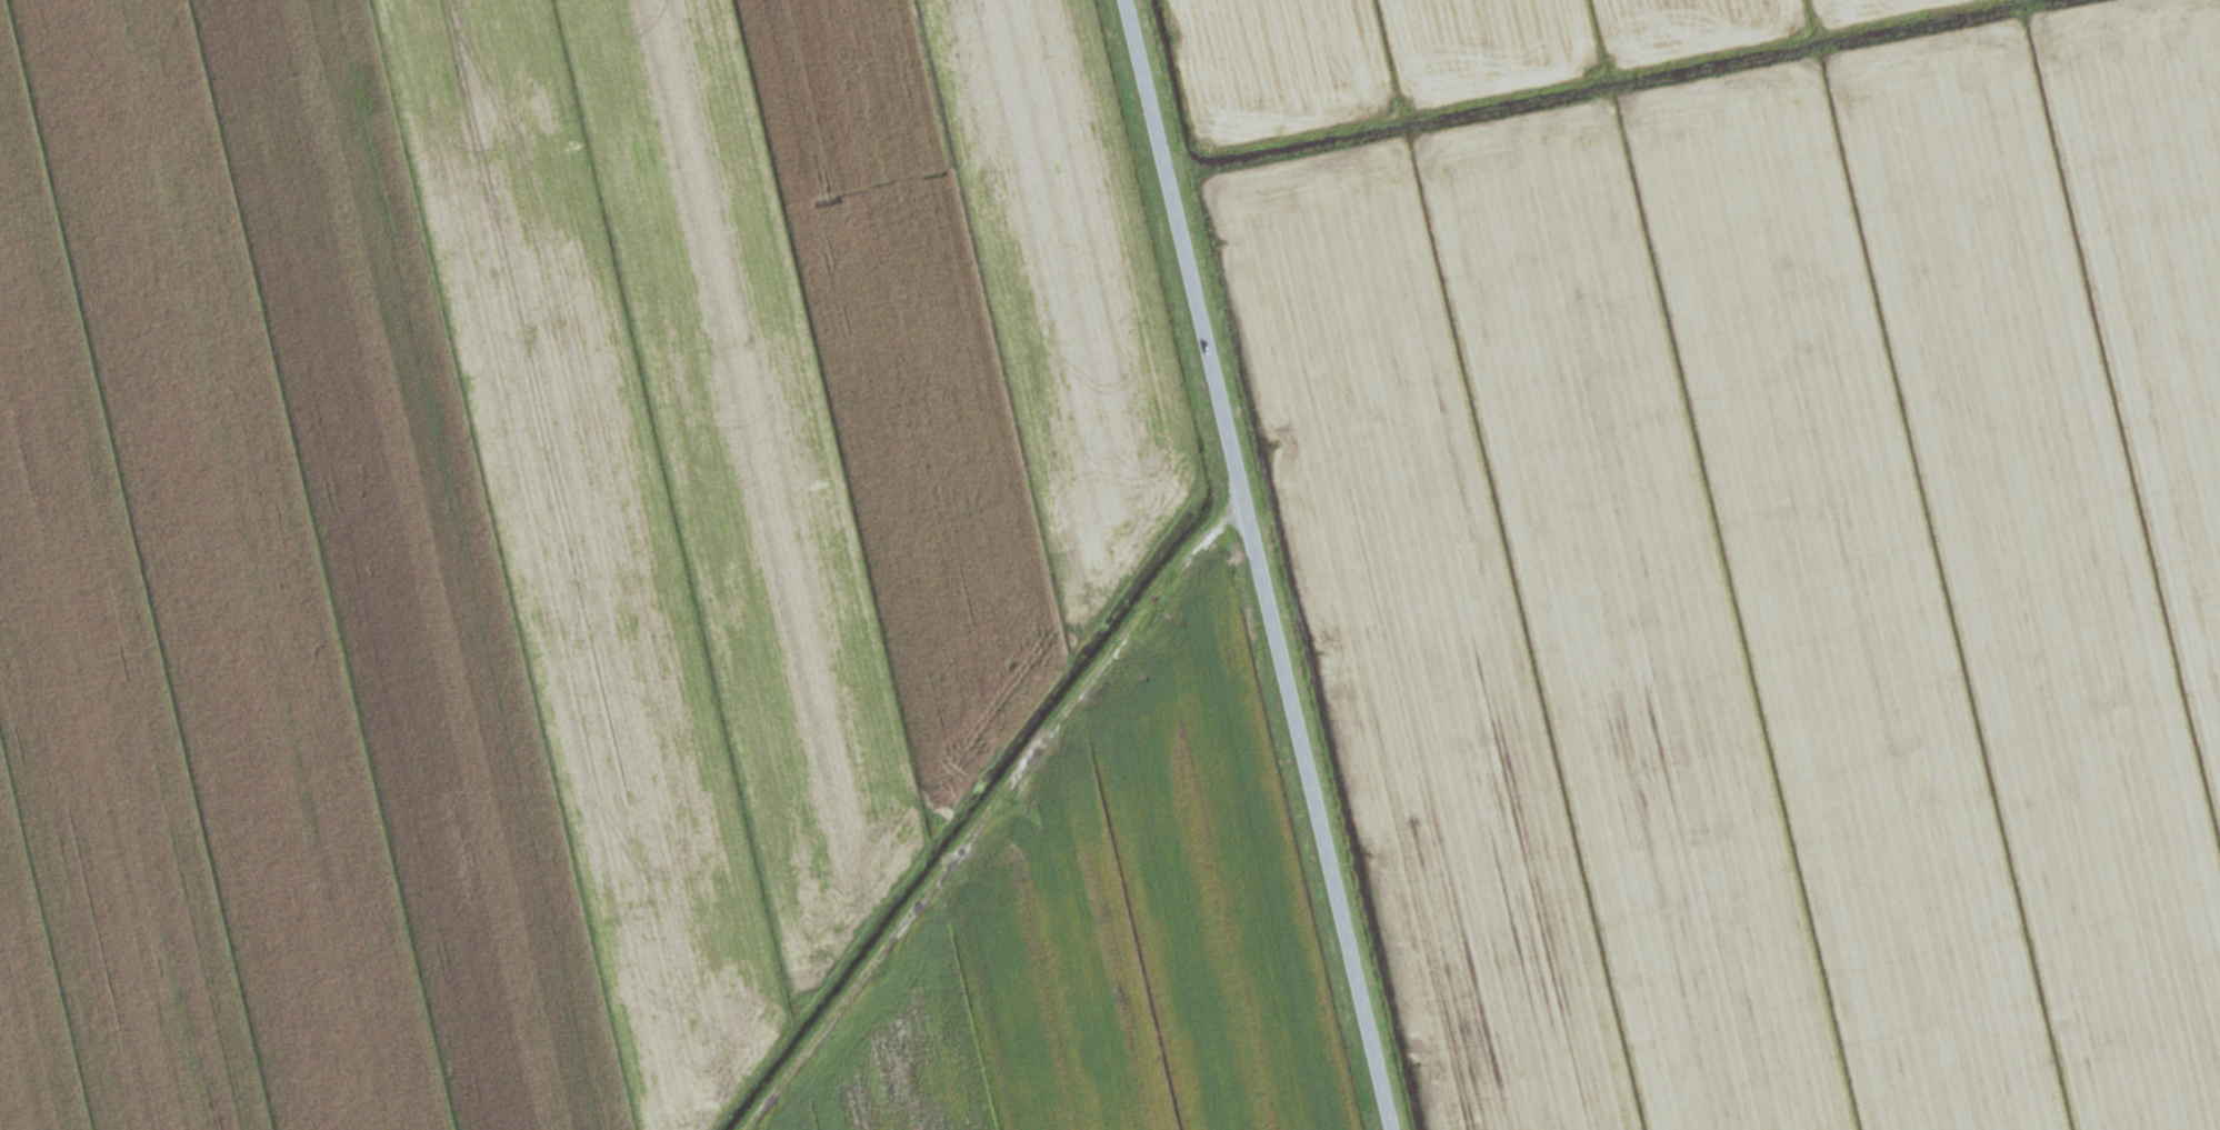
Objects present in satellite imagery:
crop: (1443, 50)
crop: (530, 527)
road: (1254, 564)
crop: (1777, 581)
road: (987, 812)
crop: (1111, 929)

